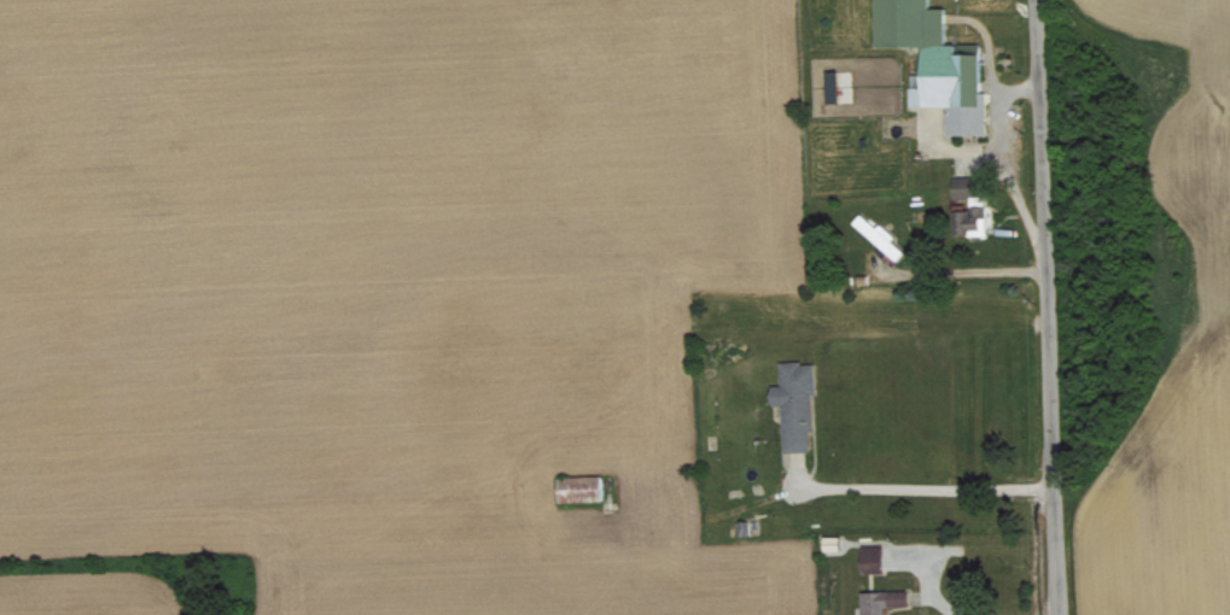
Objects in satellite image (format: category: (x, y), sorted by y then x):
building: (938, 61)
building: (834, 84)
building: (880, 234)
road: (966, 269)
road: (1045, 307)
building: (804, 410)
road: (927, 492)
building: (881, 563)
road: (942, 592)
building: (892, 603)

